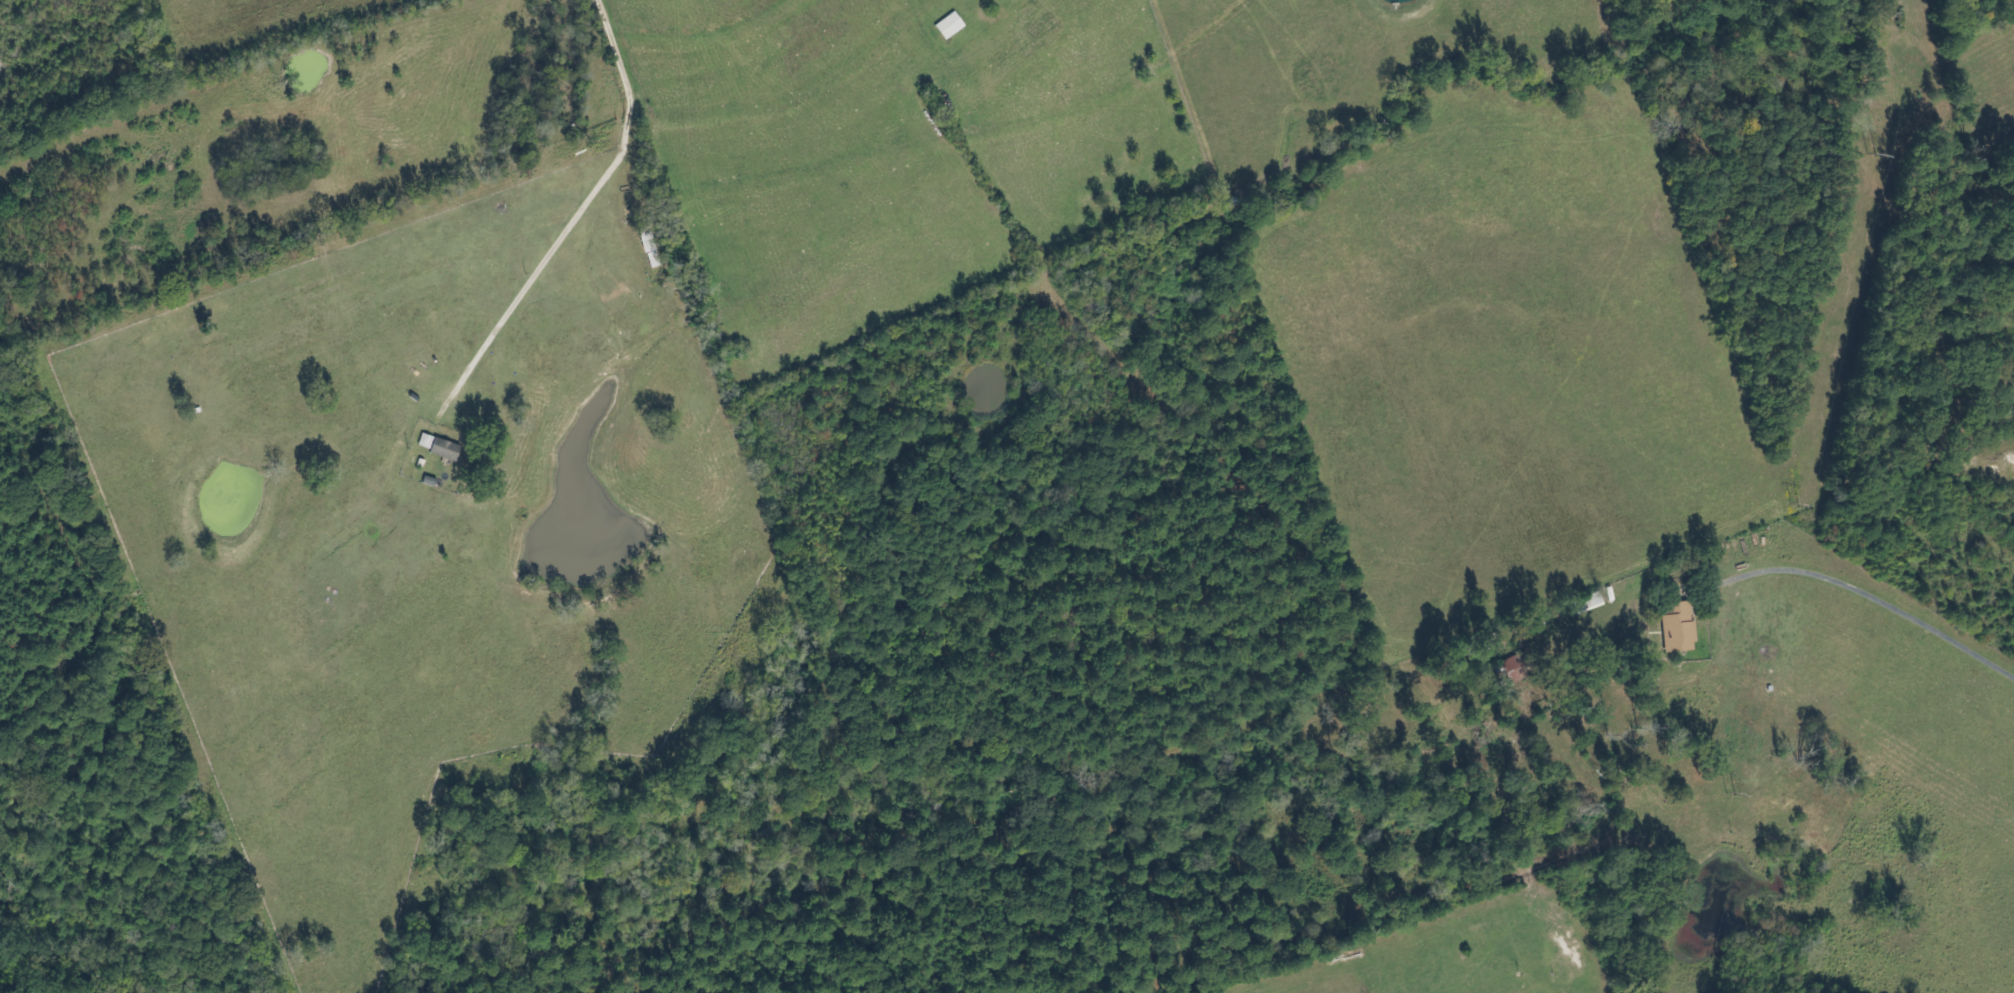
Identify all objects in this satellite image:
building: (951, 26)
power tower: (1870, 153)
building: (427, 442)
building: (447, 450)
power tower: (1793, 504)
building: (1680, 628)
building: (1515, 670)
power tower: (1730, 791)

